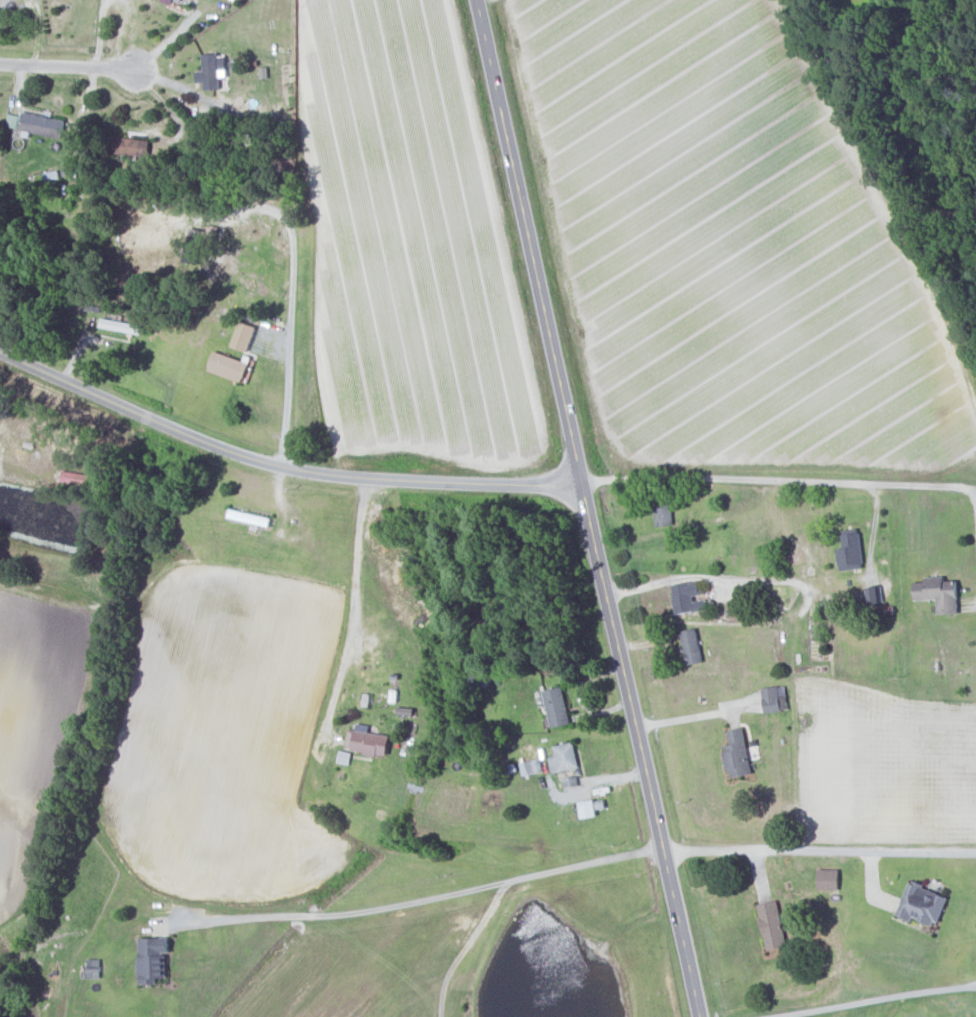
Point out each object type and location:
road: (99, 33)
road: (69, 65)
building: (211, 70)
building: (12, 120)
building: (41, 123)
building: (129, 145)
road: (290, 306)
building: (244, 336)
building: (229, 366)
road: (568, 425)
road: (279, 464)
building: (77, 478)
road: (778, 480)
road: (974, 502)
building: (664, 514)
building: (850, 552)
road: (661, 580)
road: (354, 593)
building: (939, 593)
building: (688, 597)
building: (692, 645)
building: (772, 699)
building: (555, 705)
road: (684, 718)
building: (368, 742)
building: (736, 754)
building: (562, 757)
road: (820, 849)
building: (829, 879)
road: (412, 903)
building: (922, 904)
building: (773, 925)
road: (682, 933)
road: (465, 944)
building: (153, 959)
road: (859, 994)

